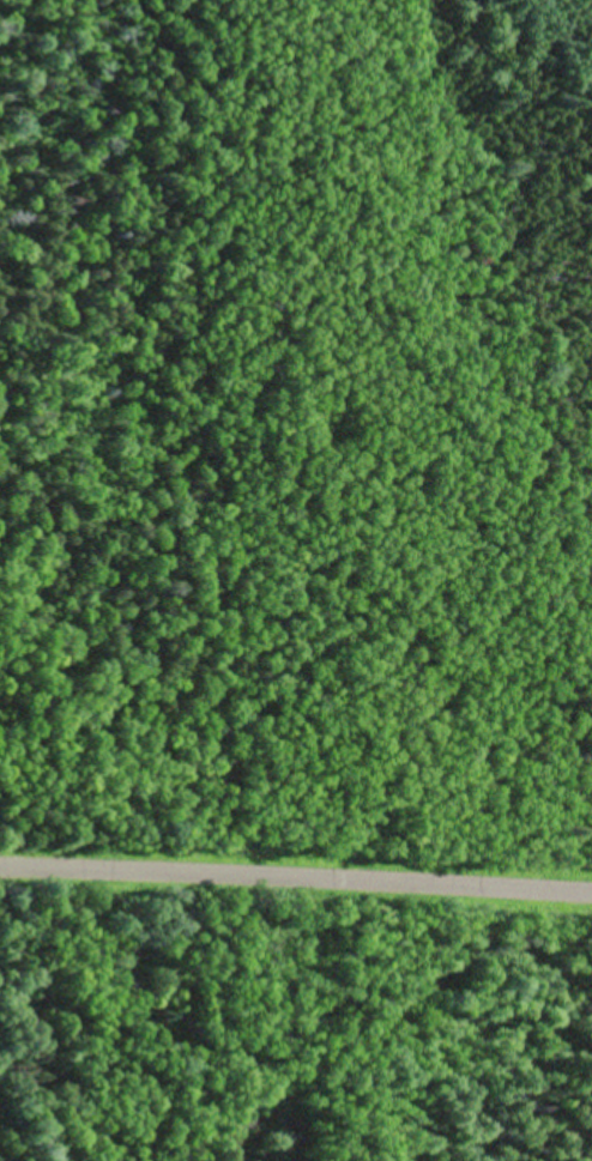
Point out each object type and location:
road: (296, 883)

